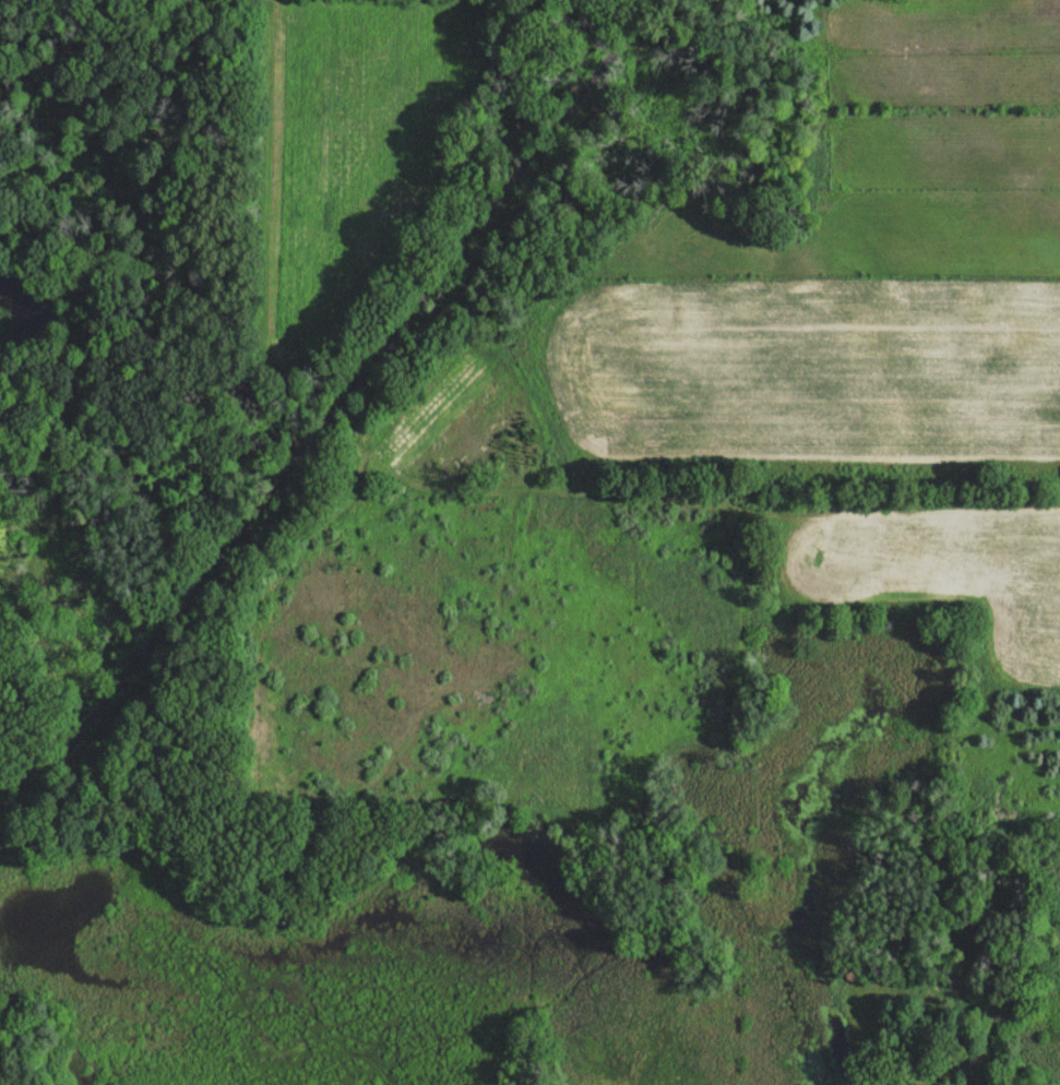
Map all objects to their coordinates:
road: (329, 414)

